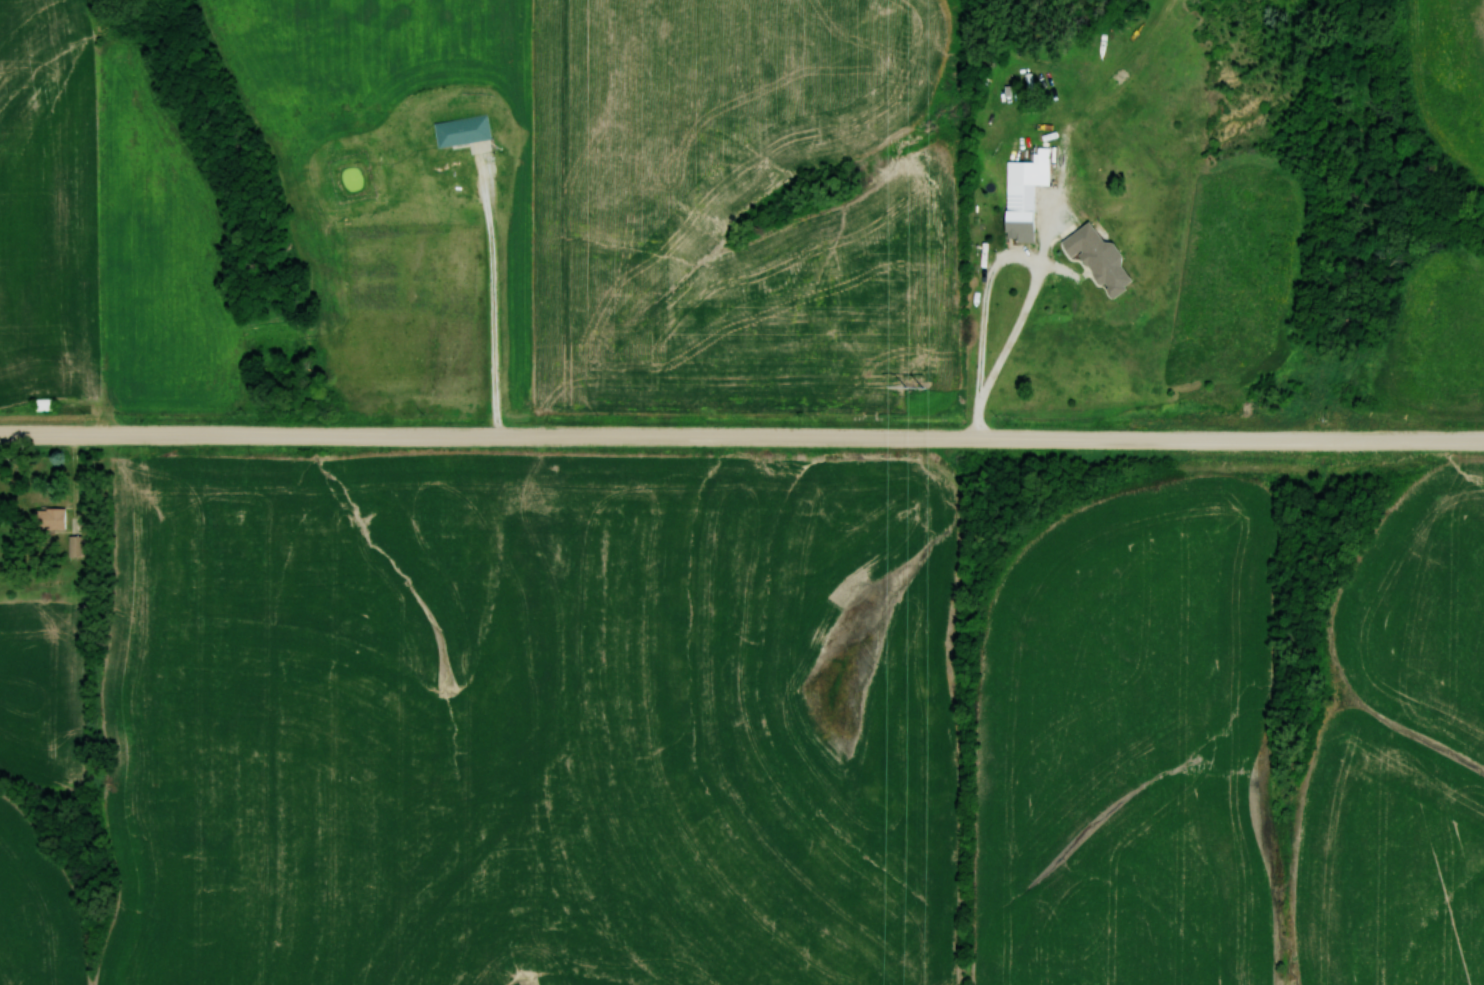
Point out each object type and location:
building: (1019, 196)
road: (1056, 205)
building: (1094, 258)
road: (1003, 260)
power tower: (921, 389)
building: (46, 405)
road: (742, 438)
building: (51, 519)

